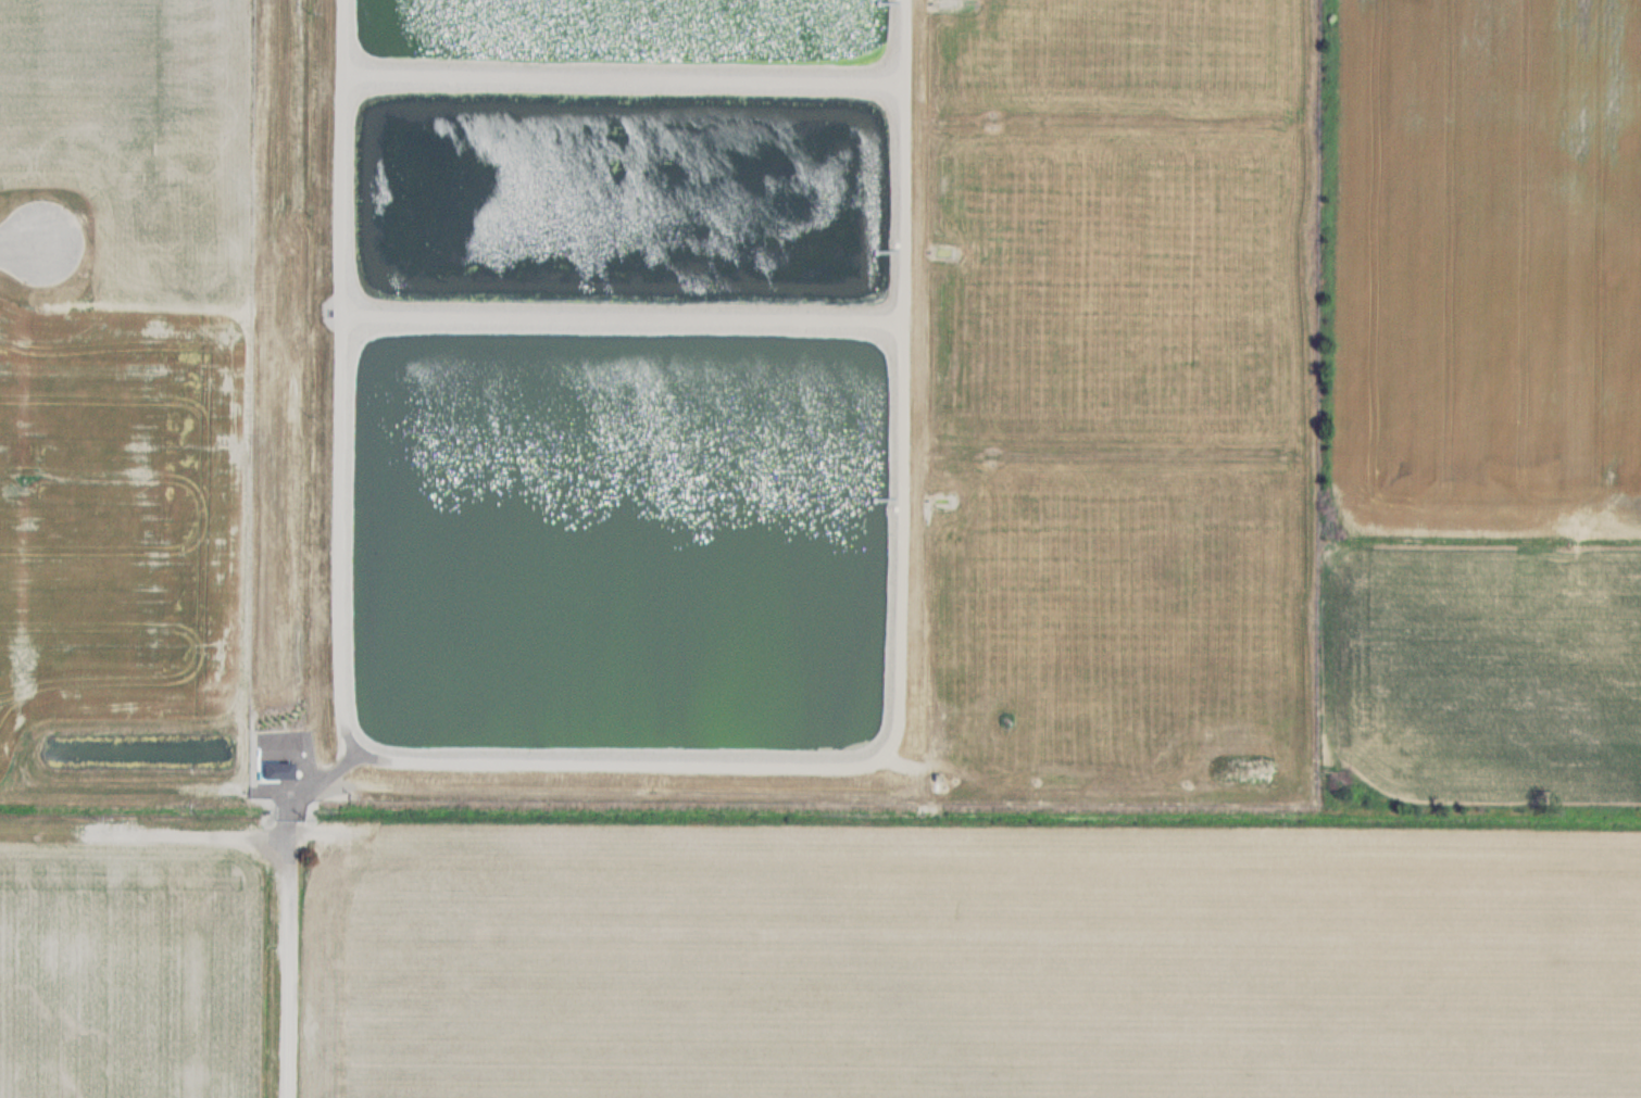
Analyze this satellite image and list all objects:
road: (624, 76)
road: (20, 247)
road: (623, 315)
crop: (146, 370)
road: (341, 382)
wastewater plant: (817, 402)
road: (900, 653)
road: (288, 922)
crop: (127, 971)

